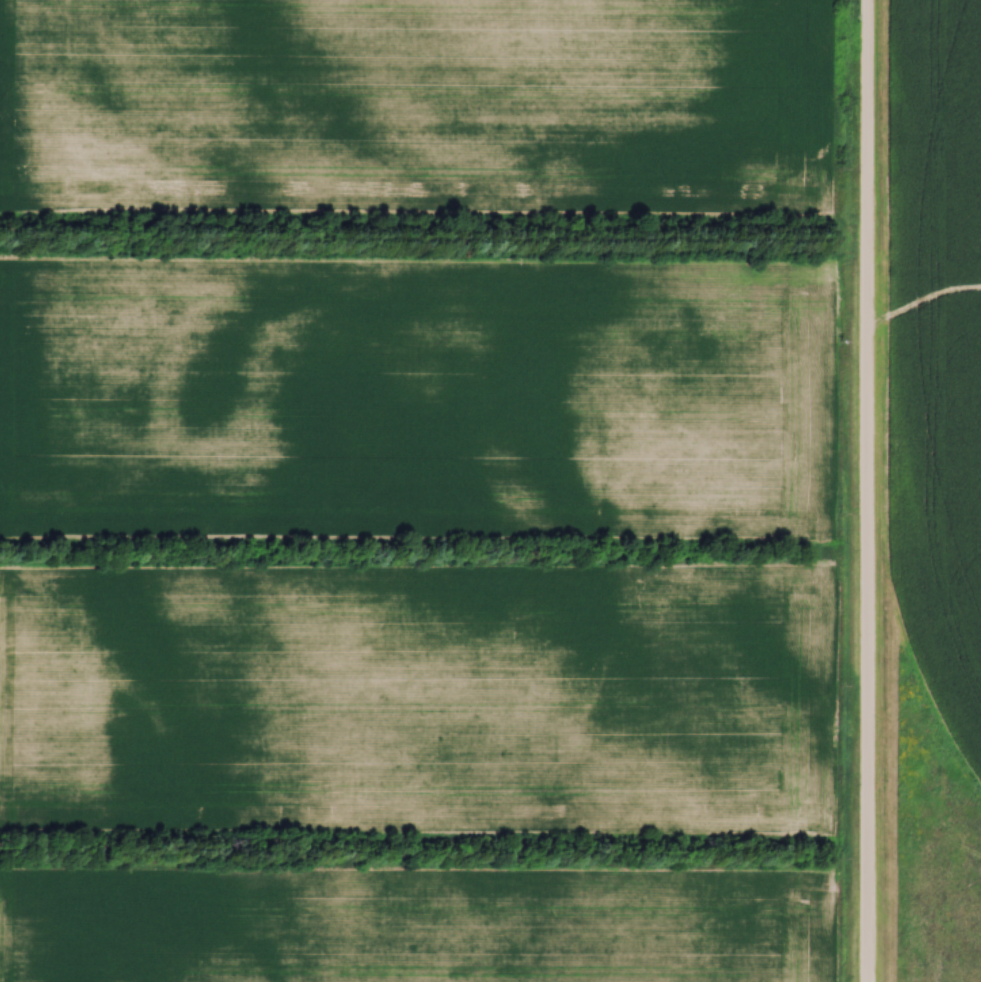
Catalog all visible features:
road: (865, 491)

